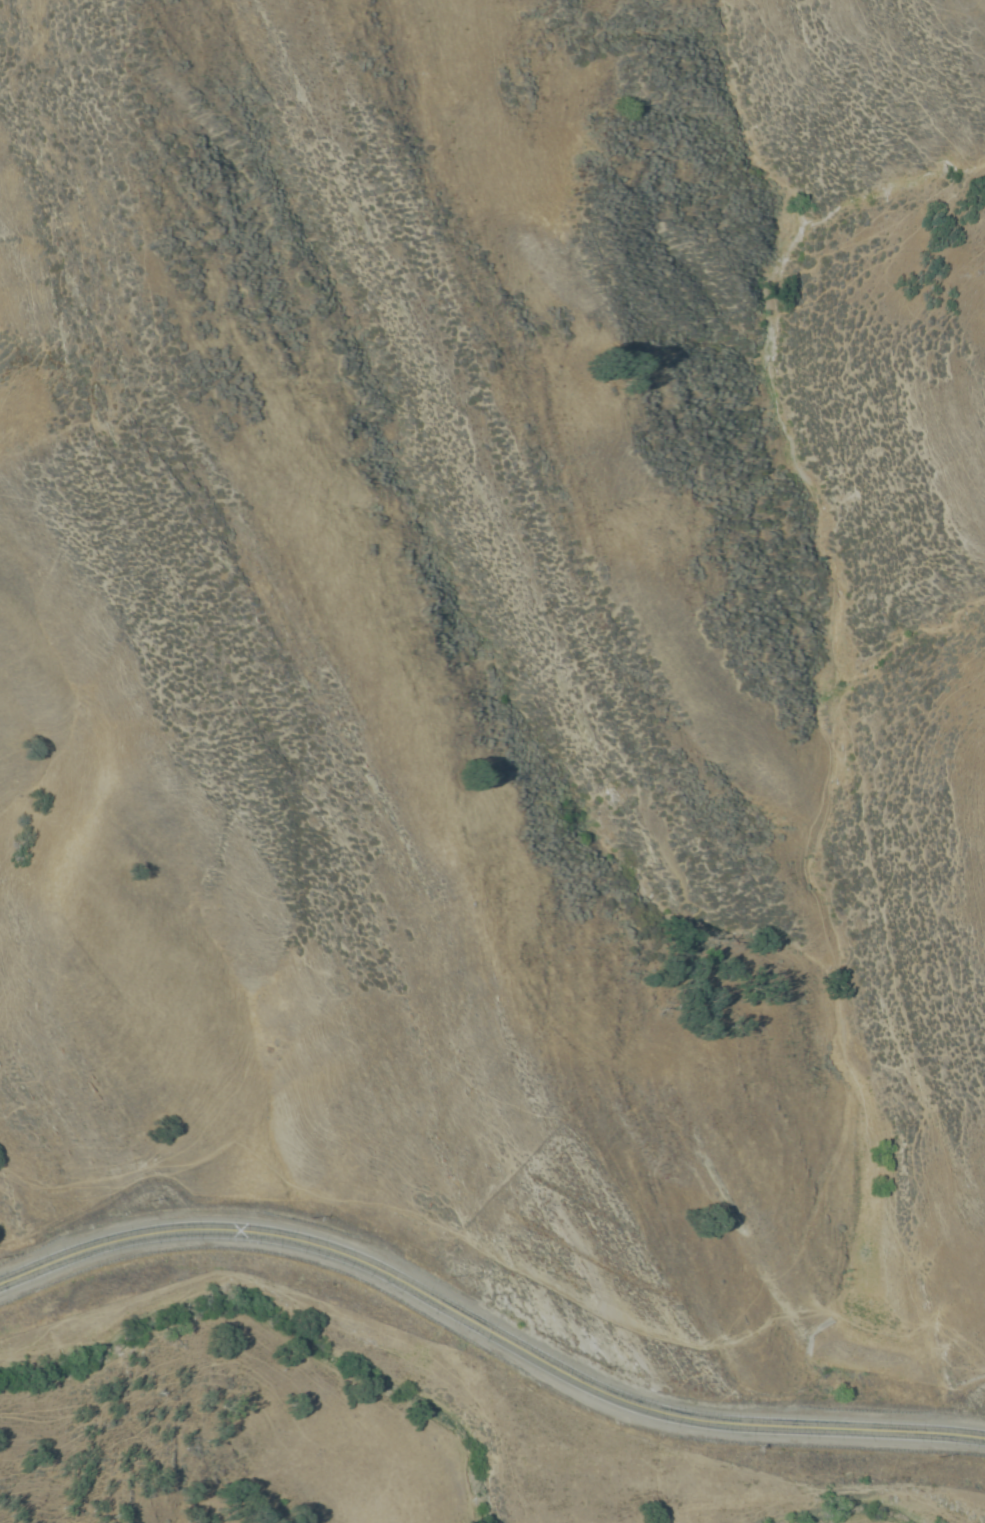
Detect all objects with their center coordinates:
wastewater plant: (852, 1227)
road: (486, 1328)

